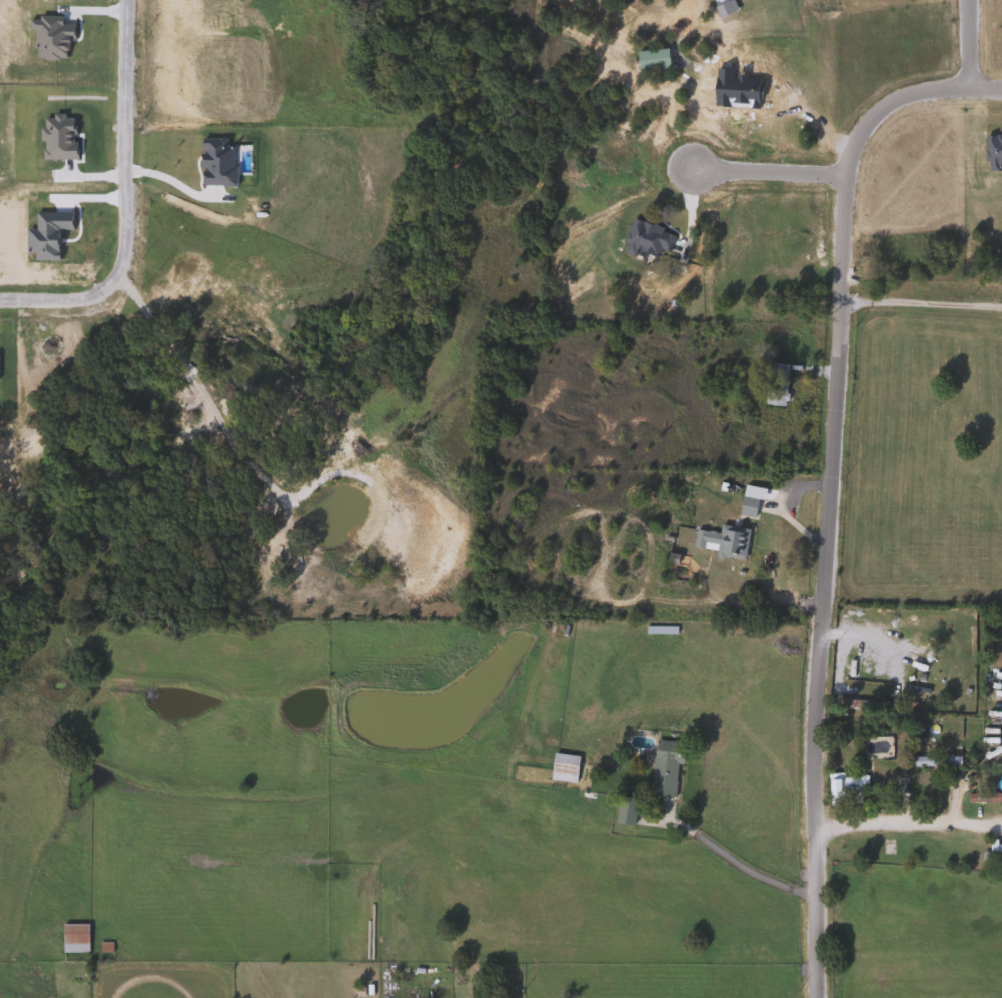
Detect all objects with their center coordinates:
road: (972, 47)
building: (649, 59)
road: (862, 148)
road: (774, 175)
road: (116, 198)
road: (922, 303)
building: (774, 384)
building: (745, 507)
building: (721, 542)
road: (815, 652)
building: (916, 664)
building: (934, 762)
building: (561, 768)
building: (662, 769)
building: (897, 787)
building: (843, 789)
building: (983, 798)
building: (623, 811)
road: (908, 822)
building: (991, 854)
road: (735, 864)
building: (72, 938)

